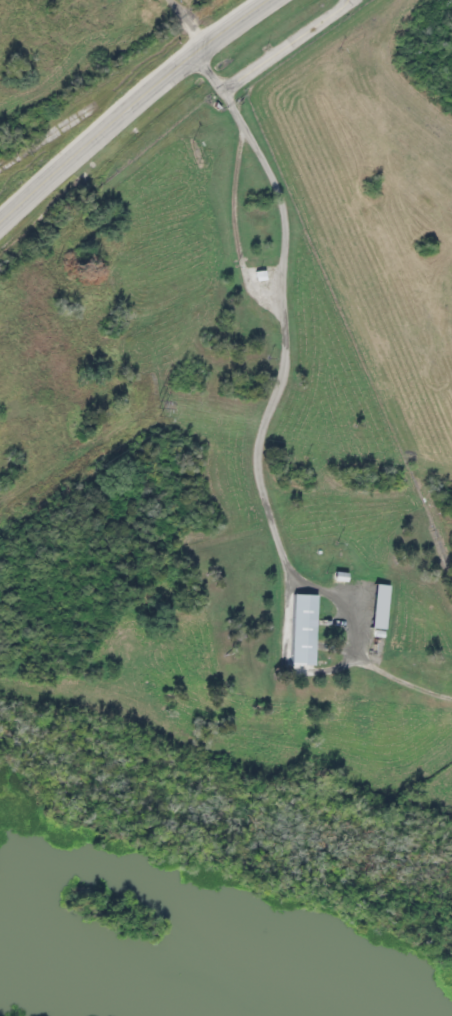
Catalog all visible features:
road: (131, 105)
road: (288, 282)
power tower: (157, 409)
building: (375, 606)
building: (299, 630)

